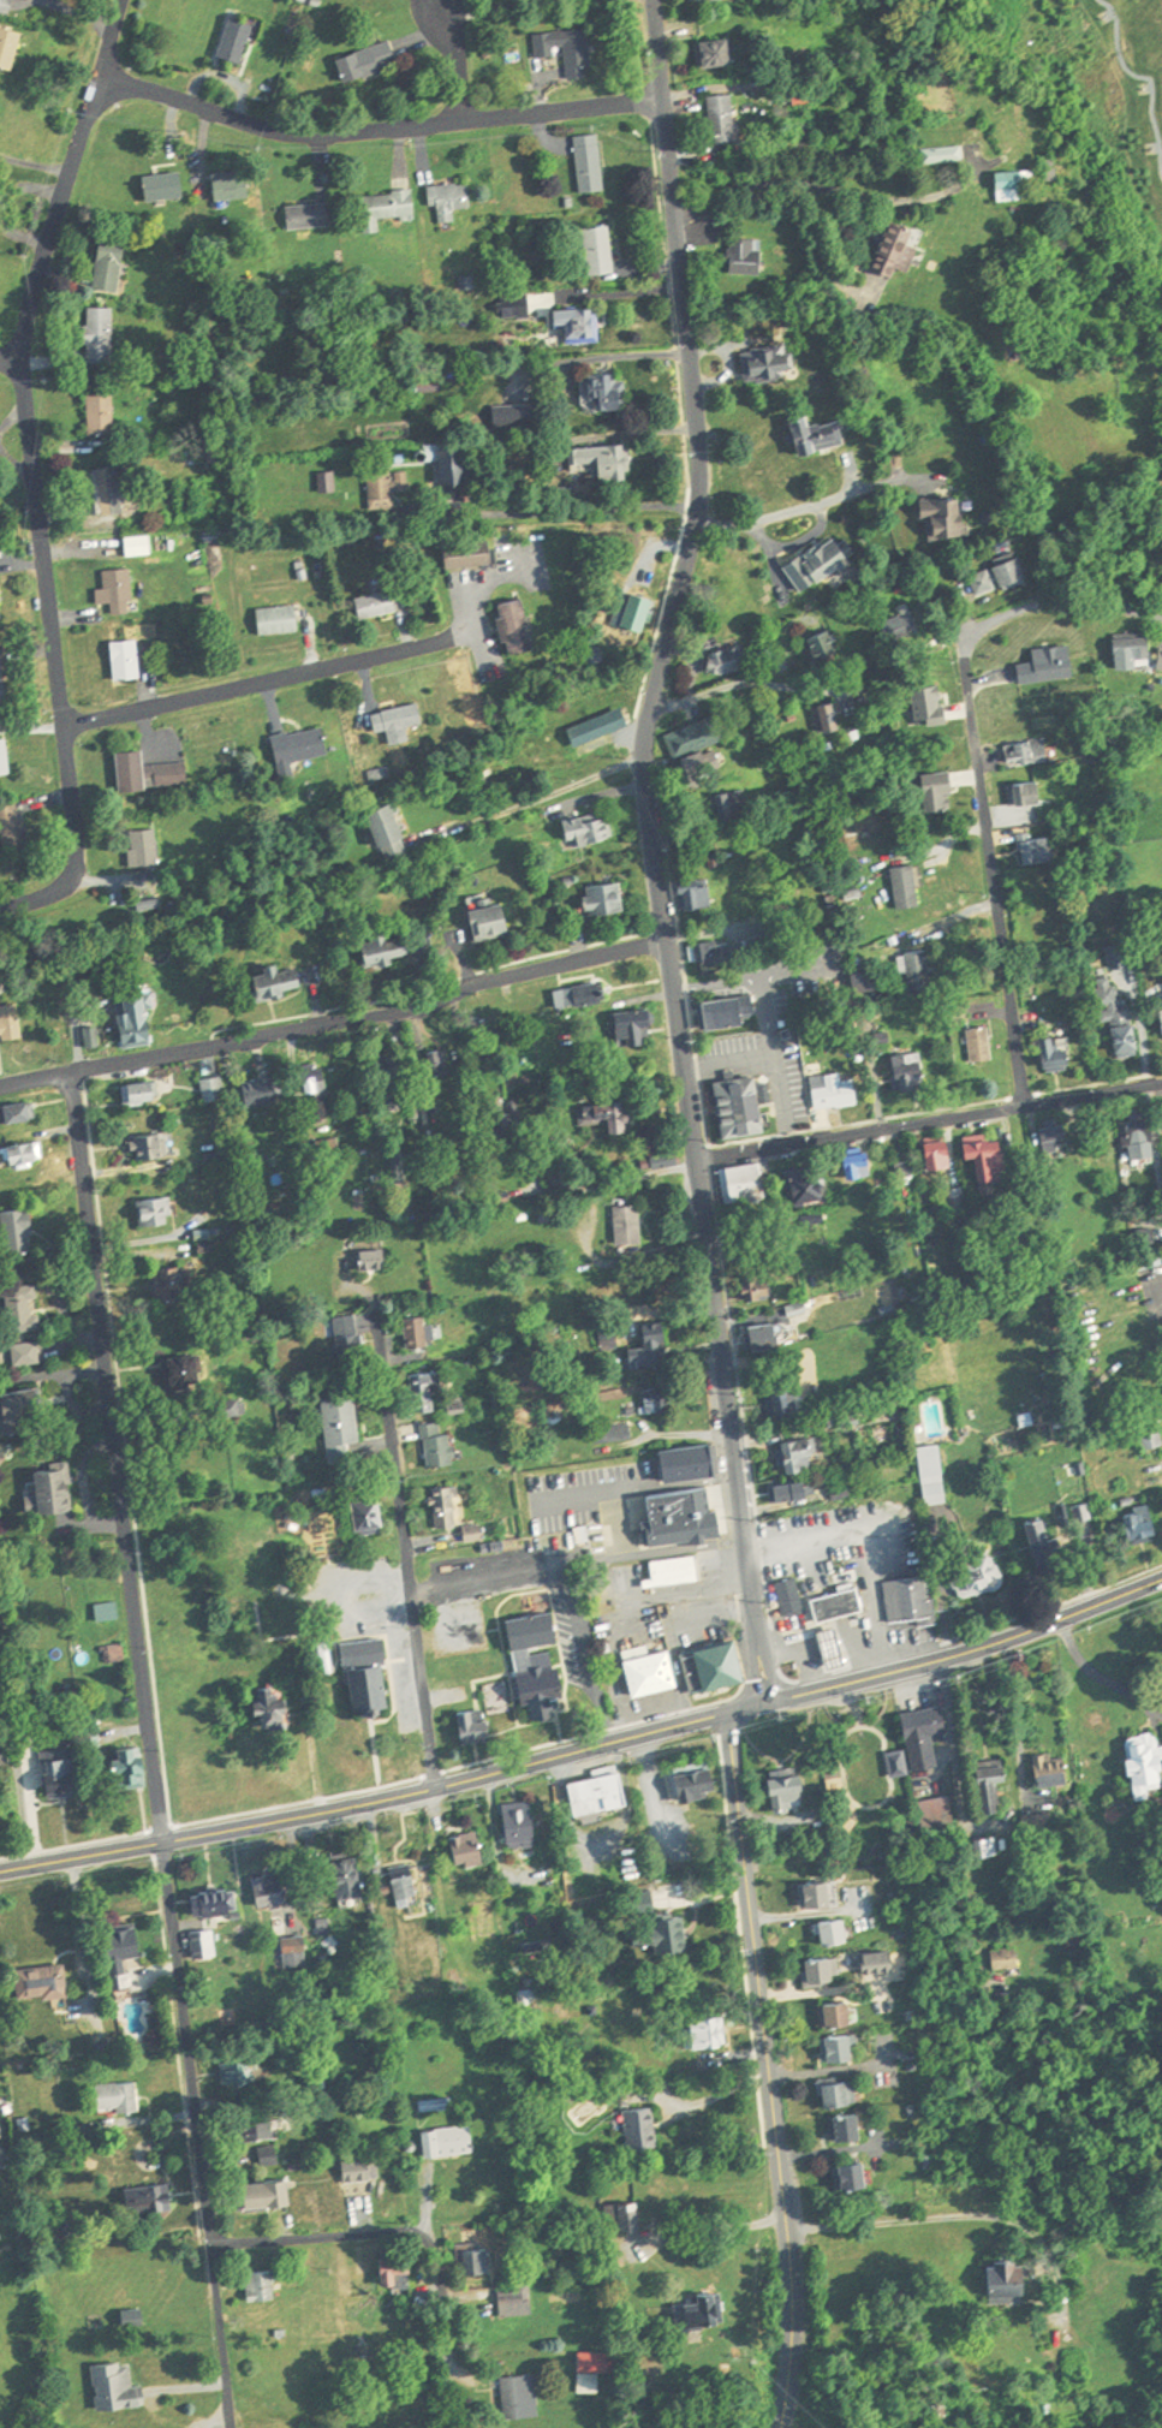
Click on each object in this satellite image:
building: (701, 0)
building: (7, 6)
building: (238, 41)
building: (10, 47)
building: (570, 50)
building: (719, 53)
building: (370, 61)
road: (454, 66)
building: (0, 108)
building: (726, 120)
road: (376, 136)
building: (945, 155)
building: (591, 165)
building: (1017, 180)
road: (823, 186)
building: (167, 188)
building: (451, 201)
building: (391, 207)
building: (311, 216)
building: (900, 250)
building: (601, 251)
building: (749, 257)
building: (112, 266)
building: (580, 325)
building: (102, 335)
road: (10, 358)
building: (770, 364)
building: (604, 393)
building: (103, 416)
road: (685, 422)
building: (820, 435)
building: (604, 460)
building: (457, 465)
road: (31, 476)
building: (388, 489)
building: (112, 492)
road: (598, 513)
road: (791, 514)
building: (949, 520)
building: (141, 547)
building: (471, 555)
building: (822, 565)
building: (1003, 578)
building: (121, 593)
building: (379, 607)
building: (0, 612)
building: (640, 613)
building: (281, 621)
building: (905, 625)
building: (519, 627)
building: (823, 649)
building: (1136, 649)
building: (129, 661)
building: (729, 661)
building: (2, 680)
road: (756, 685)
road: (251, 690)
building: (932, 704)
building: (829, 719)
building: (400, 724)
building: (598, 728)
building: (304, 746)
building: (697, 746)
building: (1030, 752)
building: (5, 760)
building: (150, 774)
road: (976, 778)
building: (943, 791)
building: (1031, 793)
road: (540, 797)
building: (14, 831)
building: (392, 833)
building: (590, 833)
building: (148, 849)
road: (649, 851)
building: (1039, 851)
building: (908, 888)
building: (698, 899)
building: (608, 901)
building: (493, 923)
building: (389, 950)
building: (714, 951)
building: (920, 974)
building: (279, 984)
building: (2, 989)
road: (433, 989)
building: (582, 998)
building: (732, 1013)
building: (1121, 1019)
building: (139, 1022)
building: (10, 1024)
road: (333, 1028)
building: (639, 1030)
building: (984, 1046)
building: (1061, 1054)
road: (769, 1064)
building: (913, 1076)
building: (394, 1082)
building: (317, 1084)
building: (215, 1090)
building: (145, 1094)
building: (264, 1094)
building: (838, 1094)
building: (744, 1108)
building: (18, 1115)
building: (609, 1117)
road: (928, 1127)
building: (1059, 1135)
building: (1143, 1144)
building: (151, 1149)
building: (942, 1156)
building: (22, 1158)
building: (993, 1160)
building: (669, 1165)
building: (863, 1170)
building: (908, 1174)
building: (740, 1180)
road: (606, 1186)
building: (812, 1190)
building: (156, 1214)
building: (811, 1222)
building: (631, 1227)
building: (18, 1234)
building: (753, 1254)
building: (375, 1261)
building: (178, 1285)
building: (759, 1290)
building: (23, 1310)
building: (417, 1334)
building: (768, 1338)
building: (350, 1339)
building: (654, 1350)
building: (26, 1356)
building: (186, 1375)
building: (425, 1394)
building: (657, 1404)
building: (779, 1406)
building: (19, 1411)
building: (1151, 1422)
building: (342, 1430)
building: (439, 1448)
building: (800, 1456)
road: (118, 1459)
building: (693, 1465)
building: (935, 1476)
parking lot: (579, 1484)
road: (678, 1488)
building: (50, 1494)
building: (791, 1495)
road: (577, 1501)
building: (448, 1510)
building: (370, 1519)
building: (681, 1522)
building: (1144, 1523)
road: (621, 1529)
building: (1068, 1533)
parking lot: (836, 1534)
road: (407, 1546)
road: (686, 1551)
road: (860, 1551)
road: (592, 1565)
building: (667, 1571)
building: (982, 1573)
road: (490, 1578)
building: (786, 1595)
road: (663, 1599)
building: (907, 1601)
building: (830, 1603)
building: (107, 1611)
building: (525, 1630)
building: (836, 1647)
road: (804, 1648)
road: (969, 1650)
building: (115, 1653)
road: (592, 1660)
building: (705, 1665)
building: (643, 1672)
building: (370, 1674)
road: (1102, 1674)
building: (535, 1688)
building: (275, 1706)
road: (1145, 1714)
building: (476, 1726)
building: (928, 1734)
road: (1020, 1755)
park: (857, 1763)
building: (1148, 1763)
building: (132, 1766)
building: (1053, 1769)
road: (1160, 1771)
building: (66, 1775)
building: (785, 1779)
building: (701, 1783)
building: (994, 1786)
building: (590, 1790)
road: (387, 1799)
building: (938, 1808)
building: (524, 1823)
road: (963, 1838)
building: (989, 1846)
building: (471, 1849)
building: (1156, 1870)
building: (352, 1876)
building: (406, 1886)
building: (272, 1892)
building: (820, 1893)
building: (216, 1902)
building: (841, 1930)
building: (673, 1934)
building: (203, 1944)
building: (125, 1953)
building: (296, 1954)
building: (1008, 1957)
building: (888, 1962)
building: (822, 1971)
building: (44, 1982)
road: (764, 2012)
building: (840, 2012)
building: (841, 2047)
building: (841, 2093)
building: (121, 2097)
road: (716, 2097)
building: (848, 2126)
building: (643, 2129)
building: (262, 2130)
road: (195, 2135)
building: (448, 2141)
building: (270, 2155)
building: (359, 2168)
building: (857, 2174)
building: (269, 2194)
building: (151, 2197)
building: (625, 2216)
road: (935, 2216)
road: (720, 2226)
road: (397, 2239)
building: (477, 2260)
building: (399, 2272)
building: (1014, 2278)
building: (262, 2285)
building: (571, 2298)
building: (517, 2299)
building: (703, 2311)
building: (602, 2358)
road: (791, 2369)
building: (591, 2384)
building: (118, 2387)
building: (522, 2397)

